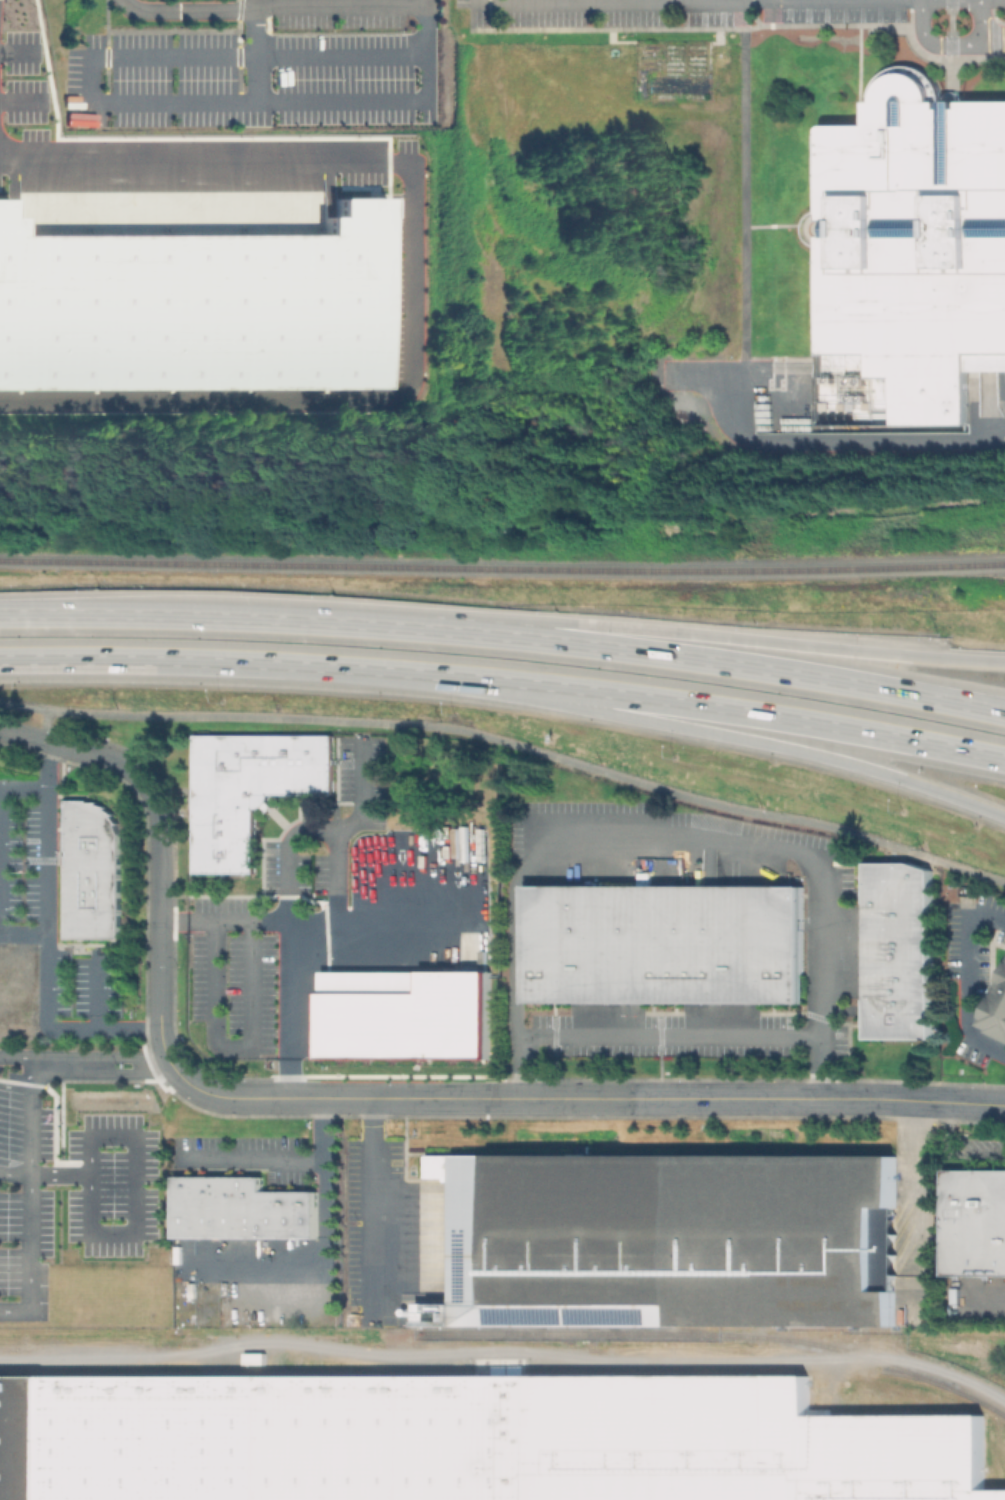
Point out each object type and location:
road: (751, 0)
road: (769, 0)
road: (656, 1)
road: (907, 3)
road: (280, 8)
road: (990, 9)
parking lot: (750, 19)
road: (978, 21)
road: (999, 21)
road: (992, 37)
road: (932, 41)
road: (949, 43)
road: (991, 43)
road: (913, 45)
road: (21, 50)
road: (255, 50)
road: (261, 54)
road: (24, 101)
road: (284, 101)
road: (745, 185)
road: (771, 225)
building: (912, 251)
road: (412, 276)
park: (606, 279)
building: (194, 306)
road: (804, 441)
railway: (502, 561)
road: (505, 628)
road: (795, 648)
road: (294, 665)
road: (44, 725)
road: (796, 725)
road: (20, 733)
road: (510, 746)
road: (797, 754)
building: (253, 791)
road: (368, 799)
road: (336, 832)
road: (159, 839)
road: (672, 841)
road: (2, 861)
building: (94, 872)
building: (967, 896)
road: (405, 916)
road: (50, 937)
road: (291, 943)
building: (662, 944)
building: (898, 950)
road: (971, 979)
road: (102, 994)
building: (996, 1011)
building: (404, 1015)
road: (674, 1038)
road: (237, 1047)
road: (126, 1057)
road: (158, 1062)
road: (69, 1065)
road: (126, 1073)
road: (17, 1083)
road: (556, 1098)
road: (957, 1148)
road: (252, 1158)
road: (17, 1172)
road: (63, 1174)
road: (911, 1176)
road: (35, 1184)
road: (374, 1204)
building: (243, 1212)
building: (974, 1221)
road: (137, 1235)
building: (668, 1240)
road: (323, 1244)
railway: (687, 1332)
railway: (506, 1369)
building: (468, 1440)

